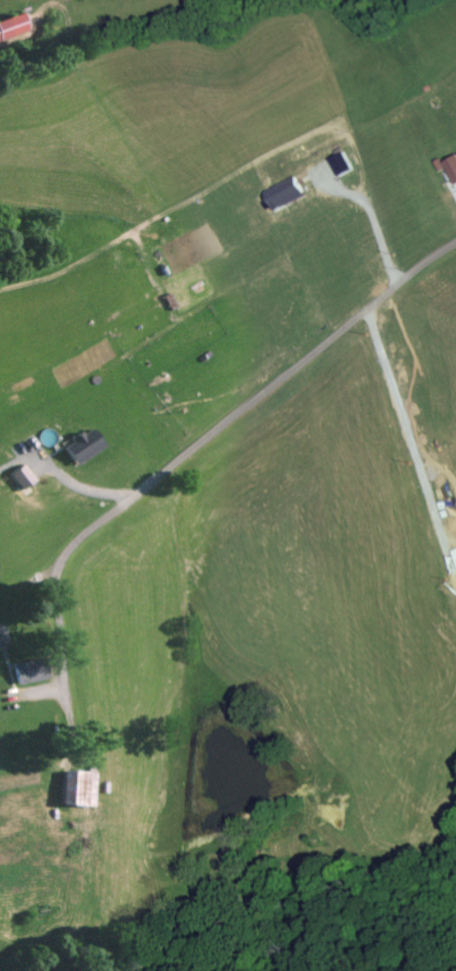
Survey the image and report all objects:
building: (14, 27)
road: (413, 35)
building: (449, 169)
building: (279, 194)
road: (201, 441)
building: (86, 445)
building: (25, 477)
building: (3, 636)
building: (32, 669)
building: (80, 788)

